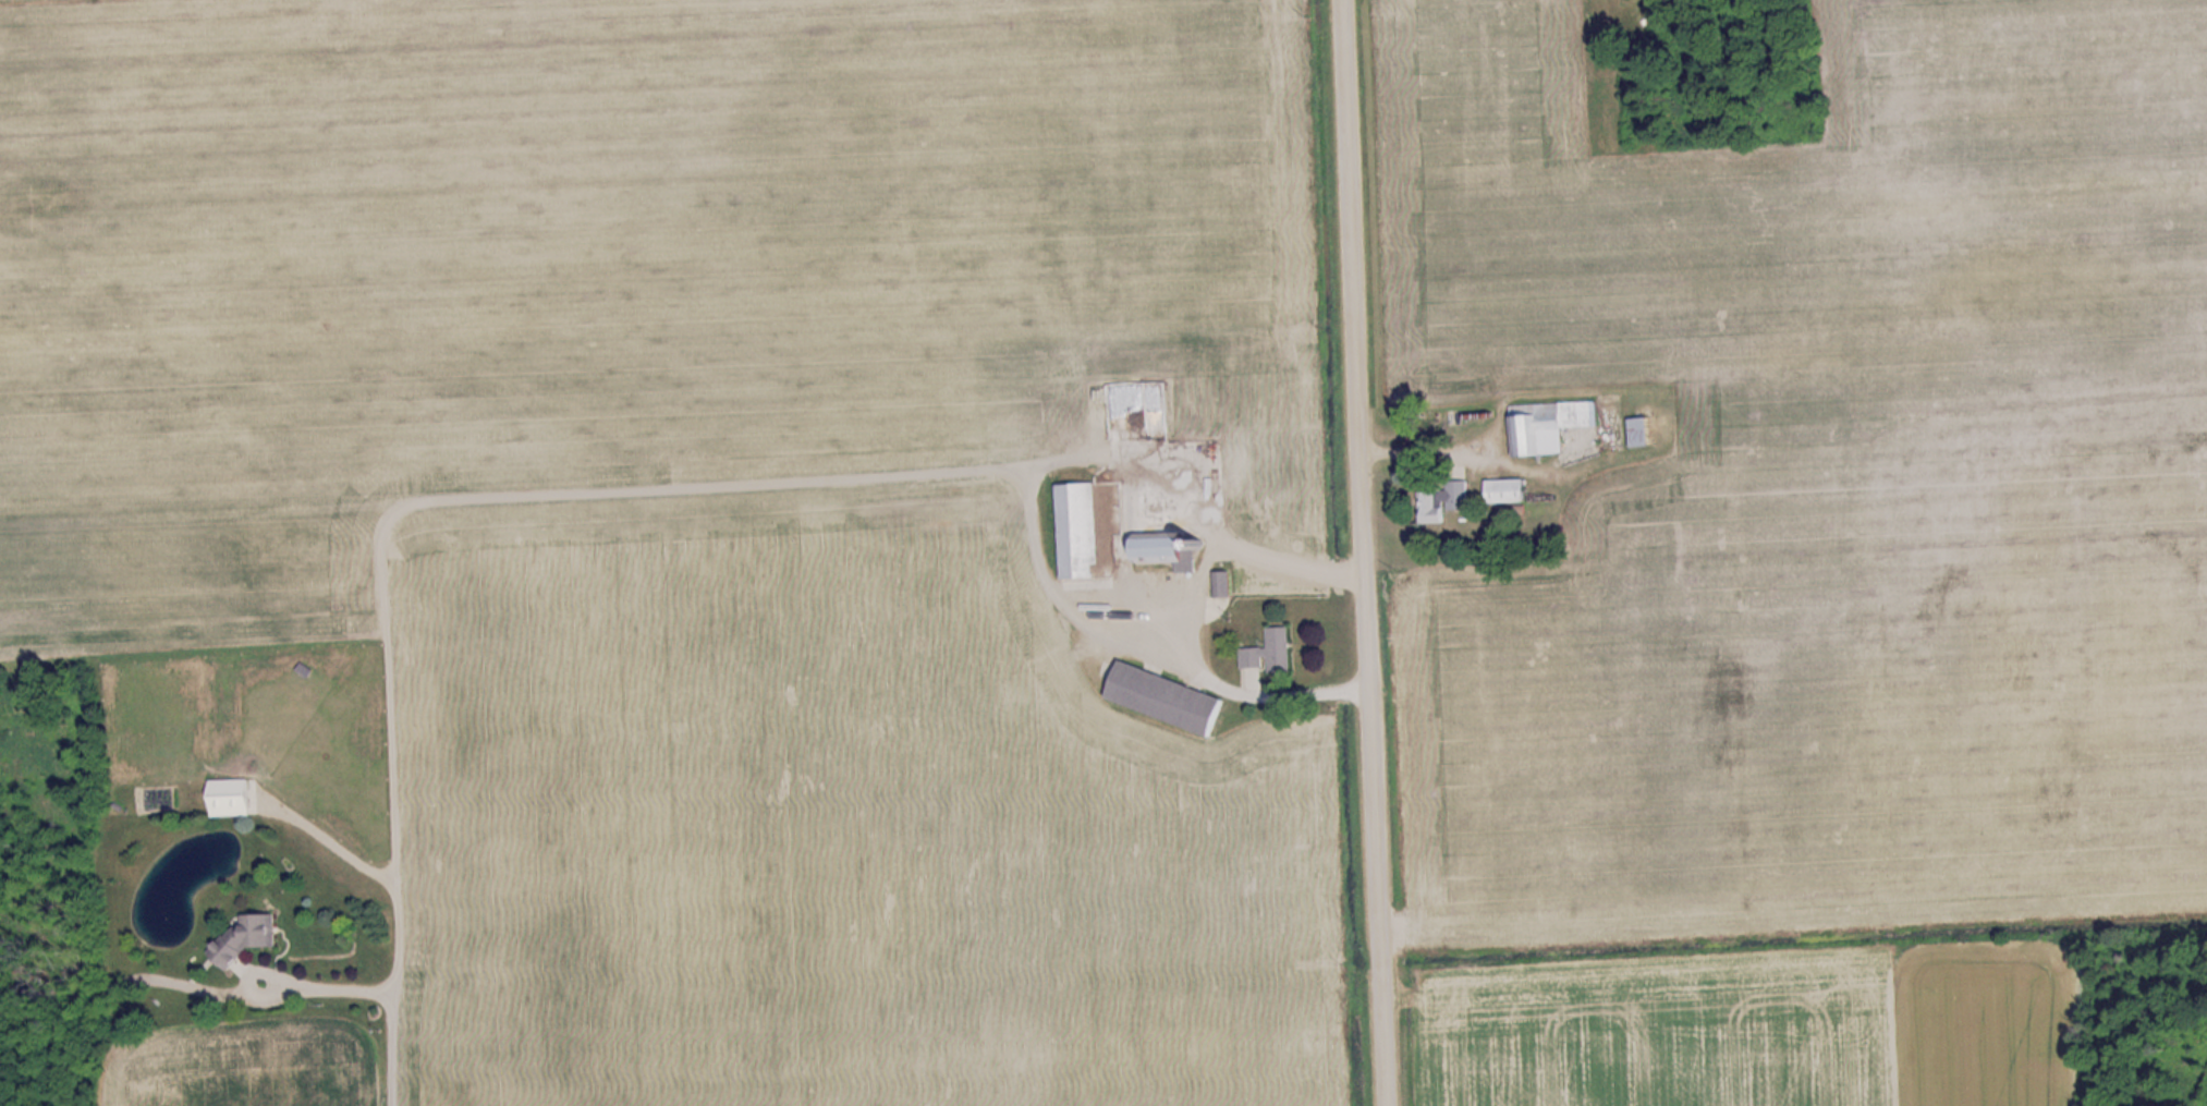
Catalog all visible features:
building: (1551, 426)
building: (1644, 433)
road: (646, 490)
building: (1511, 491)
building: (1444, 501)
building: (1083, 531)
building: (1158, 549)
road: (1365, 552)
building: (1223, 584)
building: (1273, 651)
building: (1170, 698)
building: (236, 798)
building: (251, 937)
road: (326, 987)

